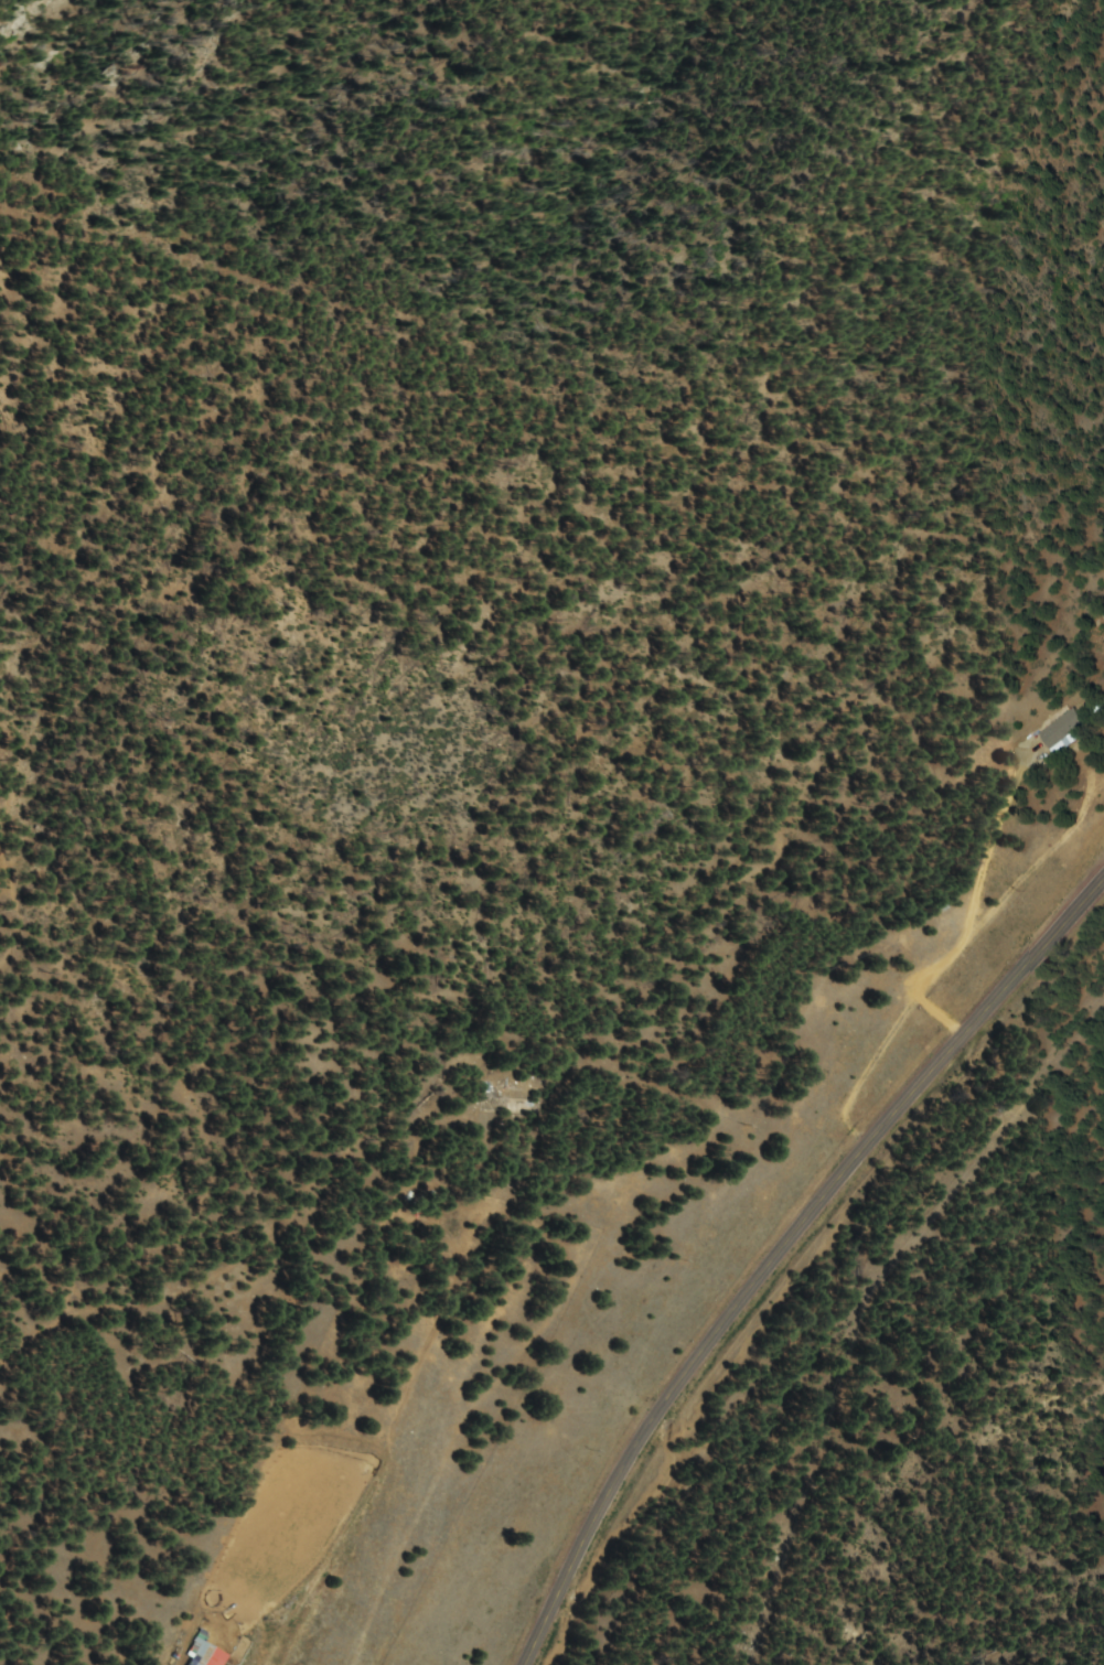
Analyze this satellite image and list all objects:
road: (781, 1248)
building: (203, 1656)

